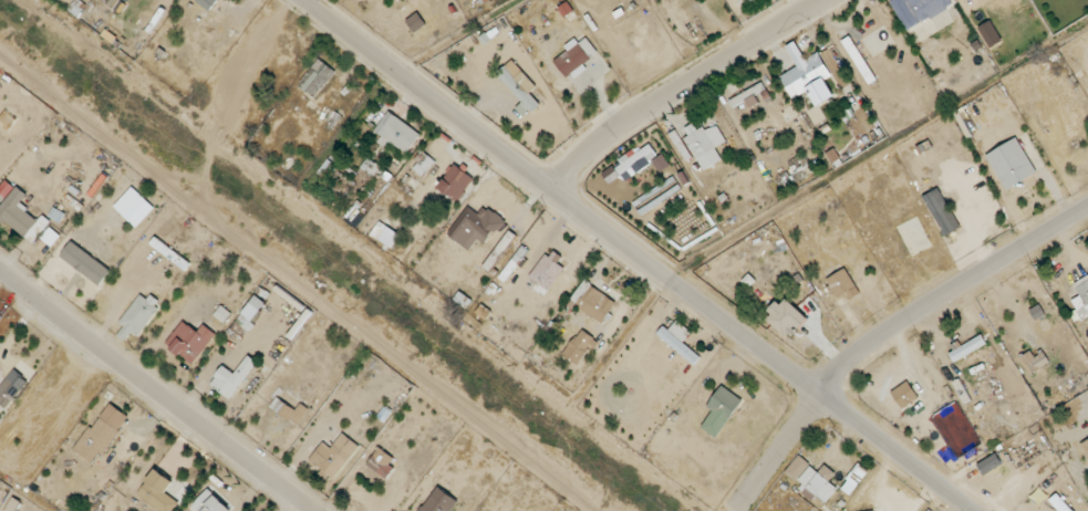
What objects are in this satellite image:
building: (740, 0)
building: (753, 0)
building: (208, 3)
building: (920, 10)
building: (416, 21)
building: (135, 28)
road: (457, 36)
building: (583, 62)
building: (805, 71)
building: (318, 77)
road: (683, 86)
building: (520, 92)
building: (397, 133)
building: (706, 144)
road: (875, 149)
building: (638, 157)
building: (1012, 163)
building: (423, 164)
building: (371, 166)
building: (456, 182)
building: (135, 207)
building: (23, 217)
building: (479, 228)
building: (388, 237)
road: (68, 249)
building: (500, 251)
road: (640, 257)
building: (843, 283)
road: (296, 284)
building: (1081, 298)
building: (593, 301)
building: (787, 316)
building: (241, 328)
road: (890, 328)
building: (190, 340)
building: (680, 340)
building: (582, 343)
building: (968, 347)
building: (1030, 362)
building: (232, 377)
building: (12, 387)
road: (156, 390)
building: (905, 394)
building: (286, 404)
building: (722, 410)
building: (102, 434)
building: (1085, 447)
building: (334, 456)
building: (383, 462)
building: (991, 463)
building: (815, 479)
building: (159, 489)
building: (210, 502)
building: (1061, 502)

